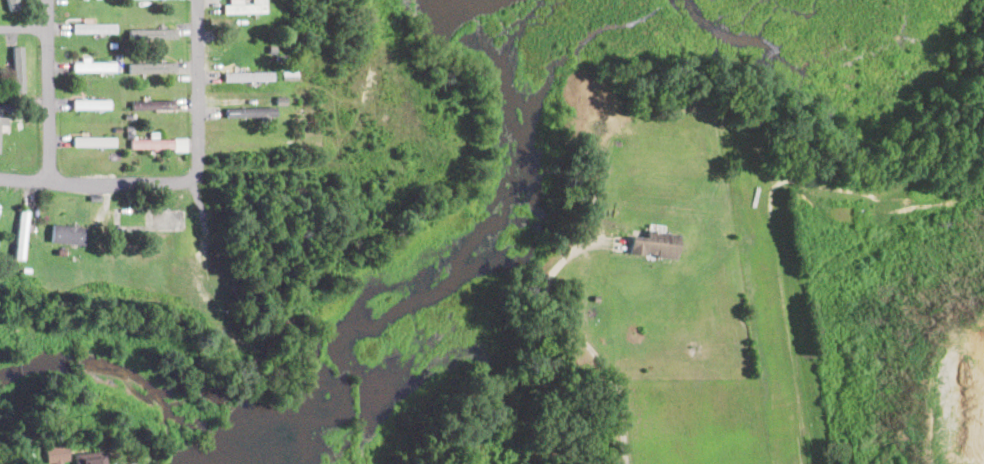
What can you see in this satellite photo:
building: (246, 8)
road: (24, 29)
building: (94, 29)
building: (152, 33)
building: (113, 44)
building: (118, 58)
building: (95, 67)
building: (152, 67)
building: (18, 68)
building: (250, 74)
road: (49, 91)
building: (281, 100)
building: (92, 105)
building: (153, 105)
building: (593, 108)
building: (642, 109)
building: (276, 113)
building: (246, 114)
building: (0, 115)
building: (130, 135)
building: (155, 136)
building: (93, 142)
building: (160, 145)
building: (114, 156)
road: (186, 180)
building: (94, 198)
building: (22, 235)
building: (71, 238)
building: (656, 245)
building: (236, 289)
building: (95, 296)
building: (597, 298)
road: (582, 337)
building: (57, 453)

